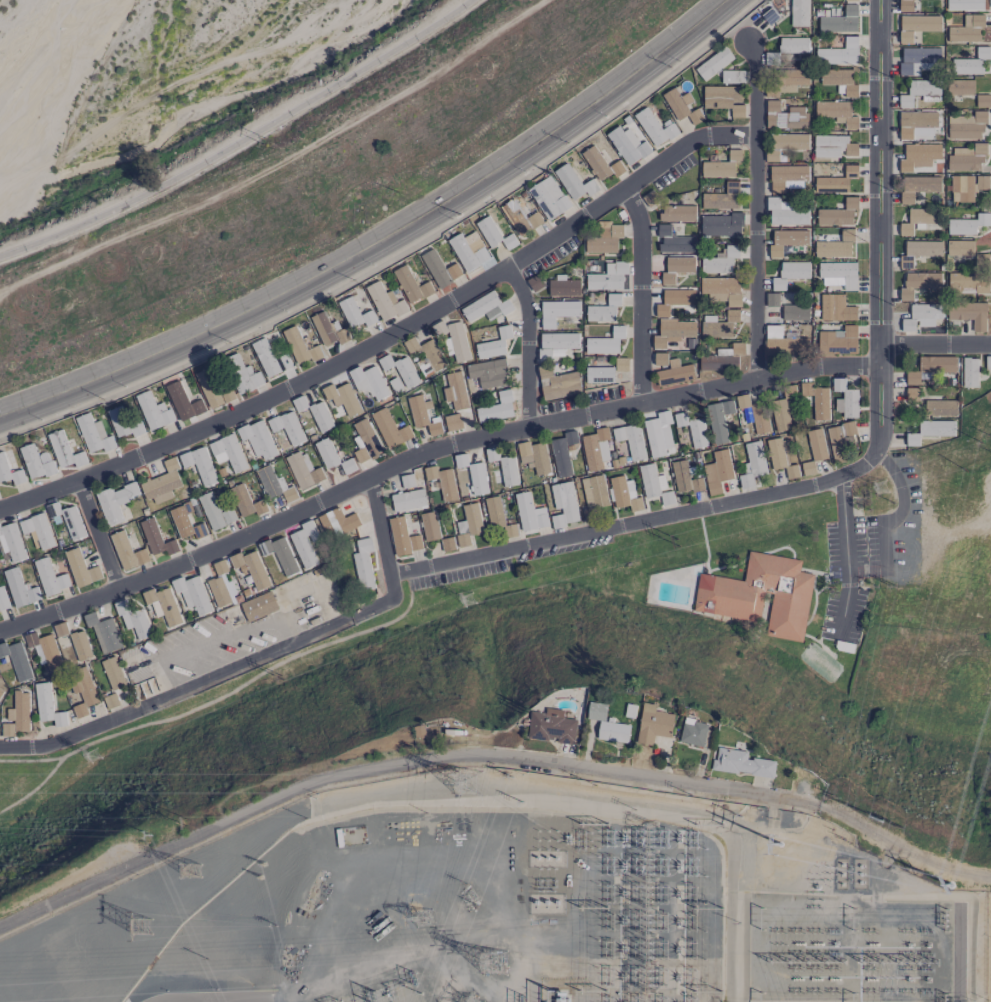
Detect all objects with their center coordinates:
building: (850, 0)
building: (964, 4)
building: (905, 5)
building: (799, 13)
building: (840, 21)
building: (917, 25)
building: (967, 30)
building: (792, 47)
building: (839, 53)
building: (917, 58)
building: (713, 63)
building: (974, 63)
building: (732, 76)
building: (791, 79)
building: (840, 81)
road: (761, 83)
building: (960, 86)
building: (919, 90)
building: (724, 99)
building: (982, 100)
building: (681, 105)
building: (837, 113)
building: (786, 116)
building: (914, 122)
building: (685, 124)
building: (966, 125)
building: (654, 128)
road: (241, 139)
building: (789, 141)
building: (628, 142)
road: (683, 145)
building: (834, 146)
building: (918, 154)
building: (966, 157)
building: (601, 164)
building: (721, 166)
building: (787, 178)
road: (879, 178)
building: (573, 183)
building: (918, 186)
building: (961, 188)
building: (548, 198)
building: (722, 198)
building: (785, 212)
building: (677, 213)
building: (838, 214)
building: (520, 218)
building: (920, 218)
building: (721, 225)
building: (968, 225)
building: (494, 234)
road: (380, 238)
building: (604, 239)
building: (786, 240)
building: (674, 241)
building: (835, 246)
building: (959, 247)
building: (918, 251)
building: (469, 254)
road: (755, 256)
building: (981, 259)
building: (721, 261)
building: (676, 268)
building: (439, 269)
building: (790, 273)
building: (838, 274)
building: (607, 277)
building: (968, 280)
building: (919, 284)
building: (411, 285)
building: (563, 287)
building: (722, 289)
road: (640, 293)
building: (674, 301)
building: (385, 302)
building: (486, 307)
building: (836, 308)
building: (604, 310)
building: (557, 311)
building: (795, 312)
building: (356, 313)
building: (969, 313)
building: (732, 315)
building: (920, 315)
building: (715, 327)
building: (328, 330)
building: (673, 331)
building: (773, 331)
building: (452, 338)
building: (838, 340)
building: (605, 342)
road: (527, 343)
building: (494, 344)
building: (796, 345)
road: (932, 345)
building: (300, 346)
building: (270, 356)
building: (425, 356)
building: (723, 358)
road: (318, 360)
building: (932, 367)
building: (671, 370)
building: (488, 372)
building: (606, 372)
building: (969, 372)
building: (398, 373)
building: (242, 374)
building: (369, 381)
building: (211, 385)
building: (454, 390)
building: (790, 391)
building: (817, 399)
building: (844, 399)
building: (340, 400)
building: (186, 405)
building: (496, 407)
building: (940, 407)
building: (154, 411)
building: (423, 415)
building: (779, 415)
building: (320, 416)
building: (752, 417)
building: (719, 420)
building: (453, 422)
building: (124, 423)
building: (287, 427)
building: (390, 428)
building: (693, 429)
building: (930, 431)
building: (656, 433)
building: (94, 434)
building: (258, 439)
building: (840, 439)
building: (365, 442)
building: (813, 444)
building: (613, 447)
building: (64, 451)
road: (427, 451)
building: (228, 452)
building: (562, 452)
building: (327, 453)
building: (534, 456)
building: (782, 457)
building: (36, 462)
building: (752, 464)
building: (200, 465)
building: (348, 466)
building: (502, 468)
building: (808, 468)
building: (10, 469)
building: (303, 470)
building: (718, 471)
building: (471, 475)
building: (685, 478)
building: (430, 481)
building: (162, 482)
power tower: (878, 483)
building: (654, 484)
building: (274, 485)
building: (594, 491)
building: (624, 494)
building: (115, 502)
building: (246, 502)
building: (563, 504)
building: (494, 511)
building: (215, 512)
road: (681, 512)
building: (530, 513)
building: (588, 513)
building: (67, 520)
building: (188, 520)
building: (335, 523)
building: (469, 524)
building: (430, 526)
building: (39, 530)
building: (511, 530)
road: (98, 534)
building: (403, 537)
building: (155, 538)
building: (11, 544)
building: (304, 544)
building: (448, 544)
building: (127, 551)
road: (845, 551)
building: (280, 555)
building: (363, 565)
building: (220, 567)
building: (81, 568)
building: (252, 568)
building: (50, 577)
building: (20, 588)
building: (218, 592)
building: (192, 593)
building: (758, 594)
building: (3, 600)
building: (163, 605)
building: (259, 606)
building: (133, 619)
building: (103, 632)
building: (75, 641)
building: (46, 650)
road: (273, 651)
building: (16, 660)
building: (7, 672)
building: (114, 673)
building: (1, 692)
building: (85, 693)
building: (47, 705)
building: (630, 711)
building: (17, 716)
building: (607, 722)
building: (654, 722)
building: (550, 724)
building: (692, 729)
road: (18, 747)
building: (741, 761)
road: (394, 764)
power tower: (468, 786)
road: (901, 847)
power tower: (771, 861)
power tower: (264, 863)
power tower: (193, 869)
road: (896, 876)
power tower: (259, 877)
power substation: (511, 906)
power tower: (422, 920)
power tower: (140, 922)
power tower: (492, 960)
power tower: (466, 1000)
road: (176, 1001)

